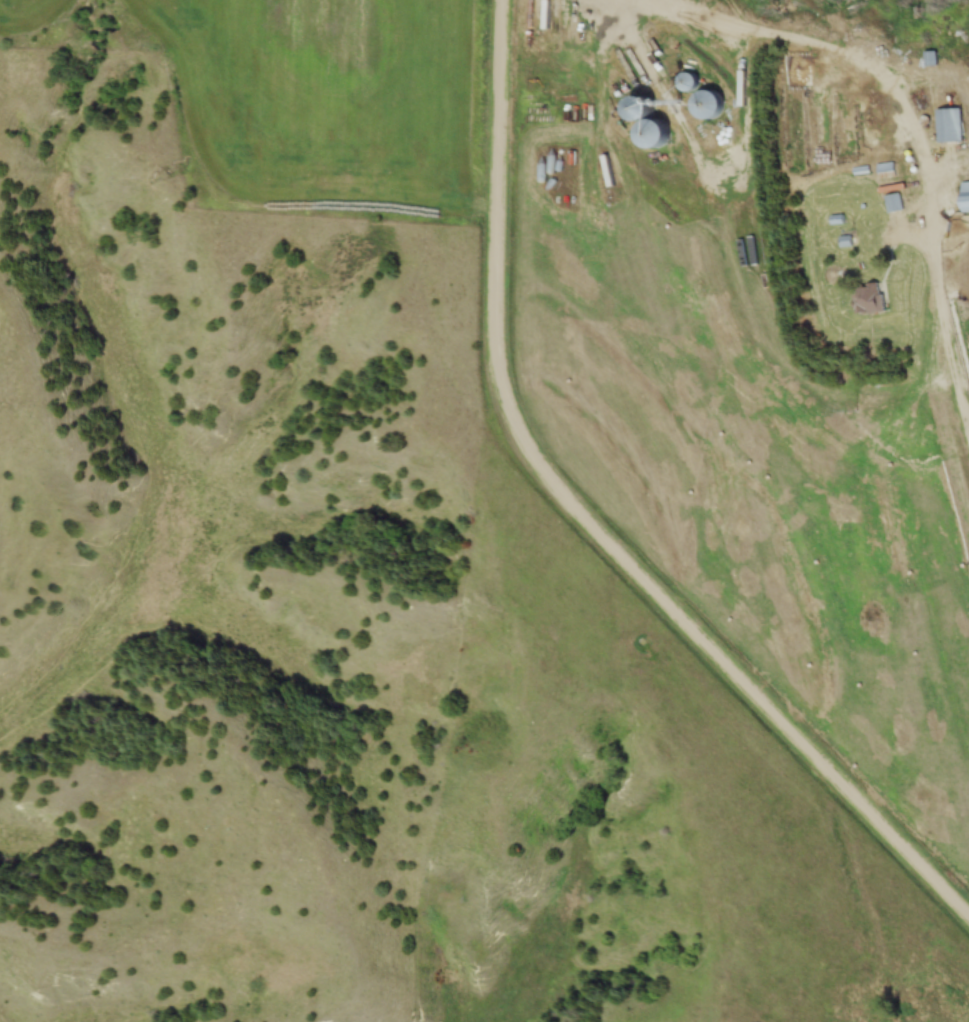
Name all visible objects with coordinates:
building: (931, 59)
building: (686, 82)
building: (707, 105)
building: (638, 109)
building: (948, 125)
building: (648, 134)
road: (917, 134)
building: (885, 171)
building: (965, 197)
building: (893, 203)
building: (869, 299)
road: (590, 516)

